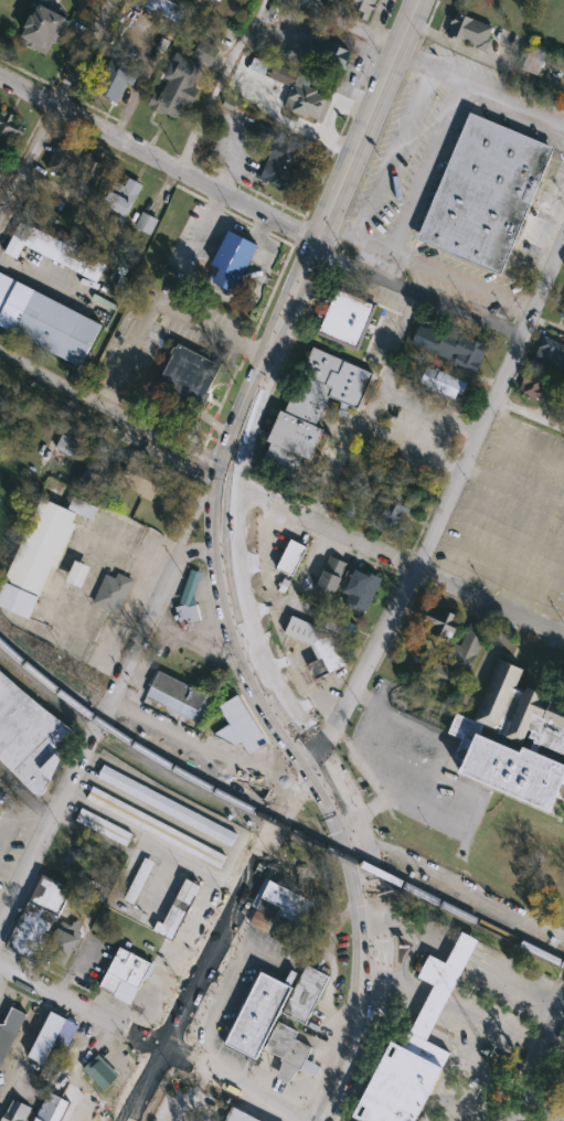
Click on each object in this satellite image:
building: (359, 8)
building: (41, 30)
building: (470, 33)
building: (332, 55)
building: (115, 81)
road: (217, 84)
building: (177, 87)
road: (480, 87)
building: (301, 94)
road: (57, 110)
building: (9, 129)
building: (272, 151)
building: (61, 162)
road: (422, 173)
building: (89, 177)
building: (485, 196)
building: (119, 201)
road: (217, 201)
road: (258, 207)
road: (235, 222)
road: (263, 222)
building: (146, 224)
road: (319, 242)
building: (64, 256)
building: (231, 261)
road: (428, 267)
road: (221, 291)
road: (156, 298)
building: (562, 313)
building: (345, 319)
building: (46, 327)
building: (451, 348)
building: (549, 351)
building: (187, 380)
road: (389, 382)
building: (441, 384)
building: (532, 388)
building: (3, 398)
road: (373, 404)
building: (310, 410)
road: (360, 427)
building: (72, 441)
building: (138, 479)
building: (91, 485)
road: (445, 498)
road: (275, 506)
building: (392, 508)
building: (82, 509)
parking lot: (512, 519)
building: (34, 556)
building: (291, 559)
road: (228, 569)
building: (76, 574)
building: (331, 576)
road: (296, 586)
building: (284, 587)
building: (190, 590)
building: (360, 590)
building: (113, 594)
building: (188, 617)
building: (438, 622)
building: (340, 626)
road: (199, 642)
building: (316, 645)
building: (466, 650)
building: (441, 676)
building: (178, 695)
road: (109, 703)
building: (251, 719)
road: (409, 722)
road: (375, 726)
building: (29, 738)
road: (192, 740)
building: (513, 741)
road: (402, 758)
parking lot: (414, 770)
building: (166, 805)
road: (339, 807)
railway: (273, 818)
building: (104, 828)
building: (155, 828)
building: (137, 883)
road: (461, 883)
building: (92, 889)
building: (49, 896)
road: (238, 896)
building: (281, 898)
building: (267, 909)
building: (178, 910)
building: (260, 920)
building: (32, 931)
building: (61, 944)
parking lot: (88, 961)
building: (131, 962)
parking lot: (238, 980)
building: (121, 981)
road: (402, 983)
building: (305, 995)
road: (439, 1000)
building: (257, 1018)
road: (494, 1025)
building: (9, 1029)
building: (66, 1034)
road: (157, 1036)
building: (45, 1038)
building: (416, 1049)
road: (347, 1050)
building: (289, 1054)
road: (533, 1060)
building: (100, 1071)
parking lot: (552, 1098)
building: (47, 1108)
road: (181, 1114)
building: (241, 1115)
road: (125, 1120)

